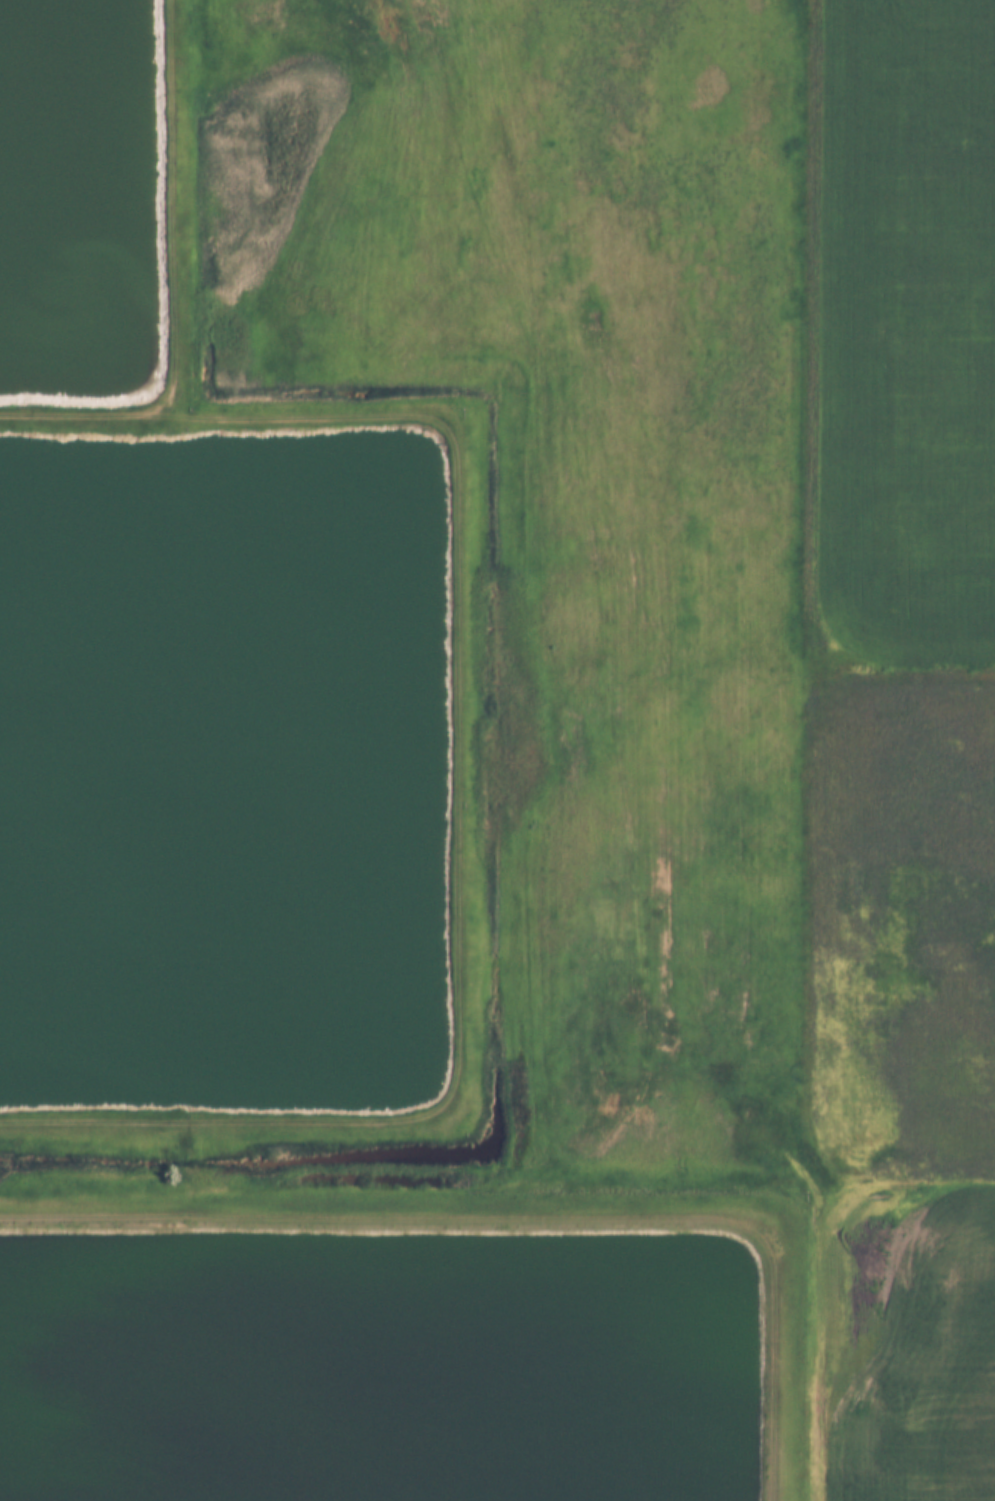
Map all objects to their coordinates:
road: (176, 206)
road: (459, 765)

